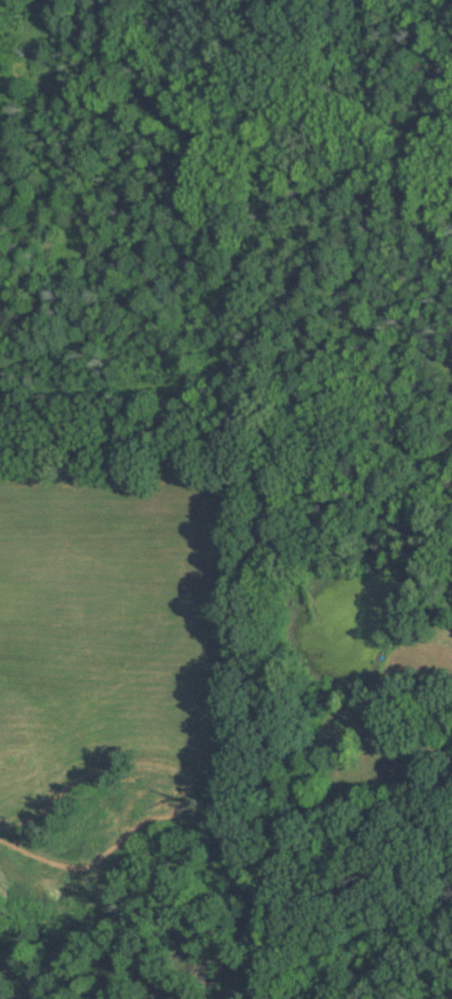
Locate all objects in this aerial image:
building: (2, 758)

